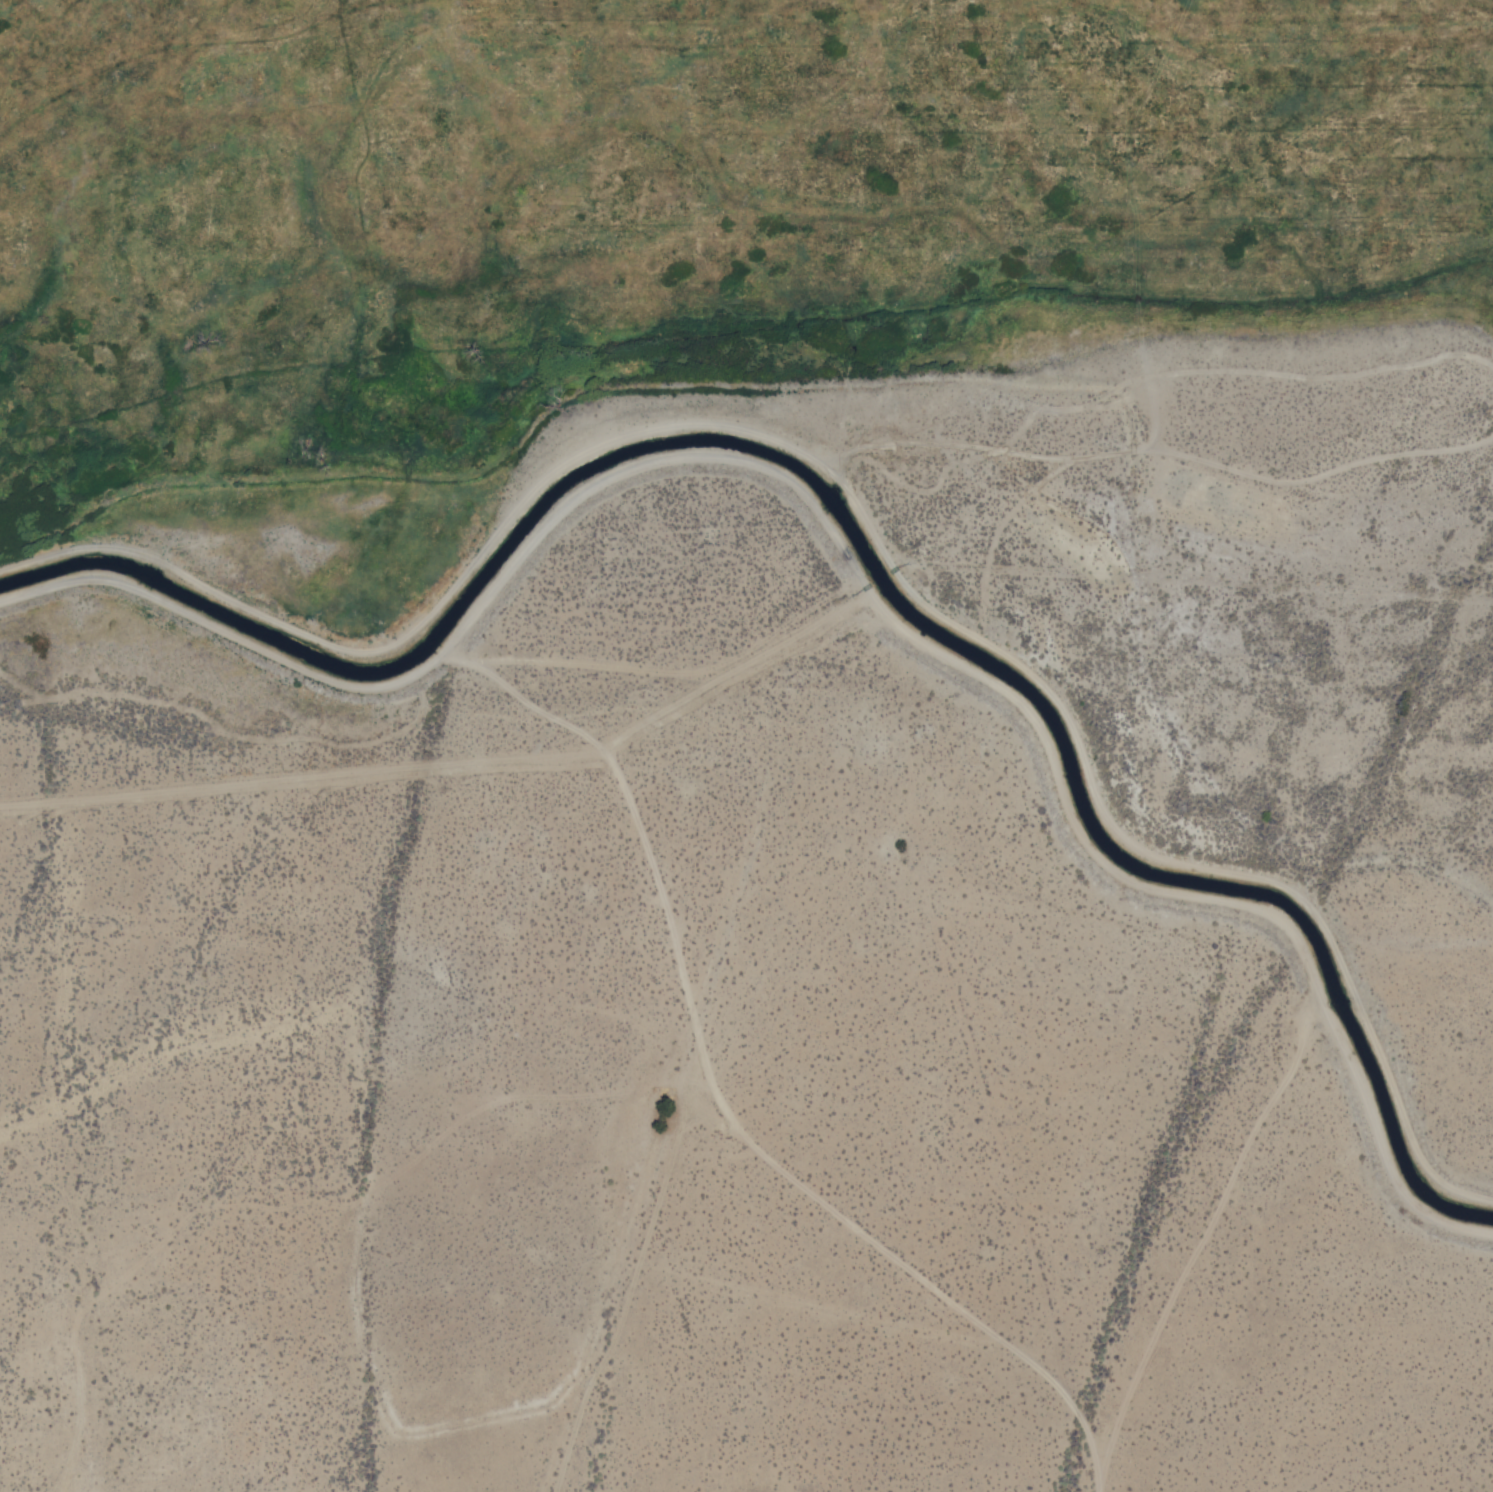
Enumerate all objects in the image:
road: (857, 507)
road: (846, 548)
road: (460, 772)
road: (719, 1100)
road: (1202, 1238)

